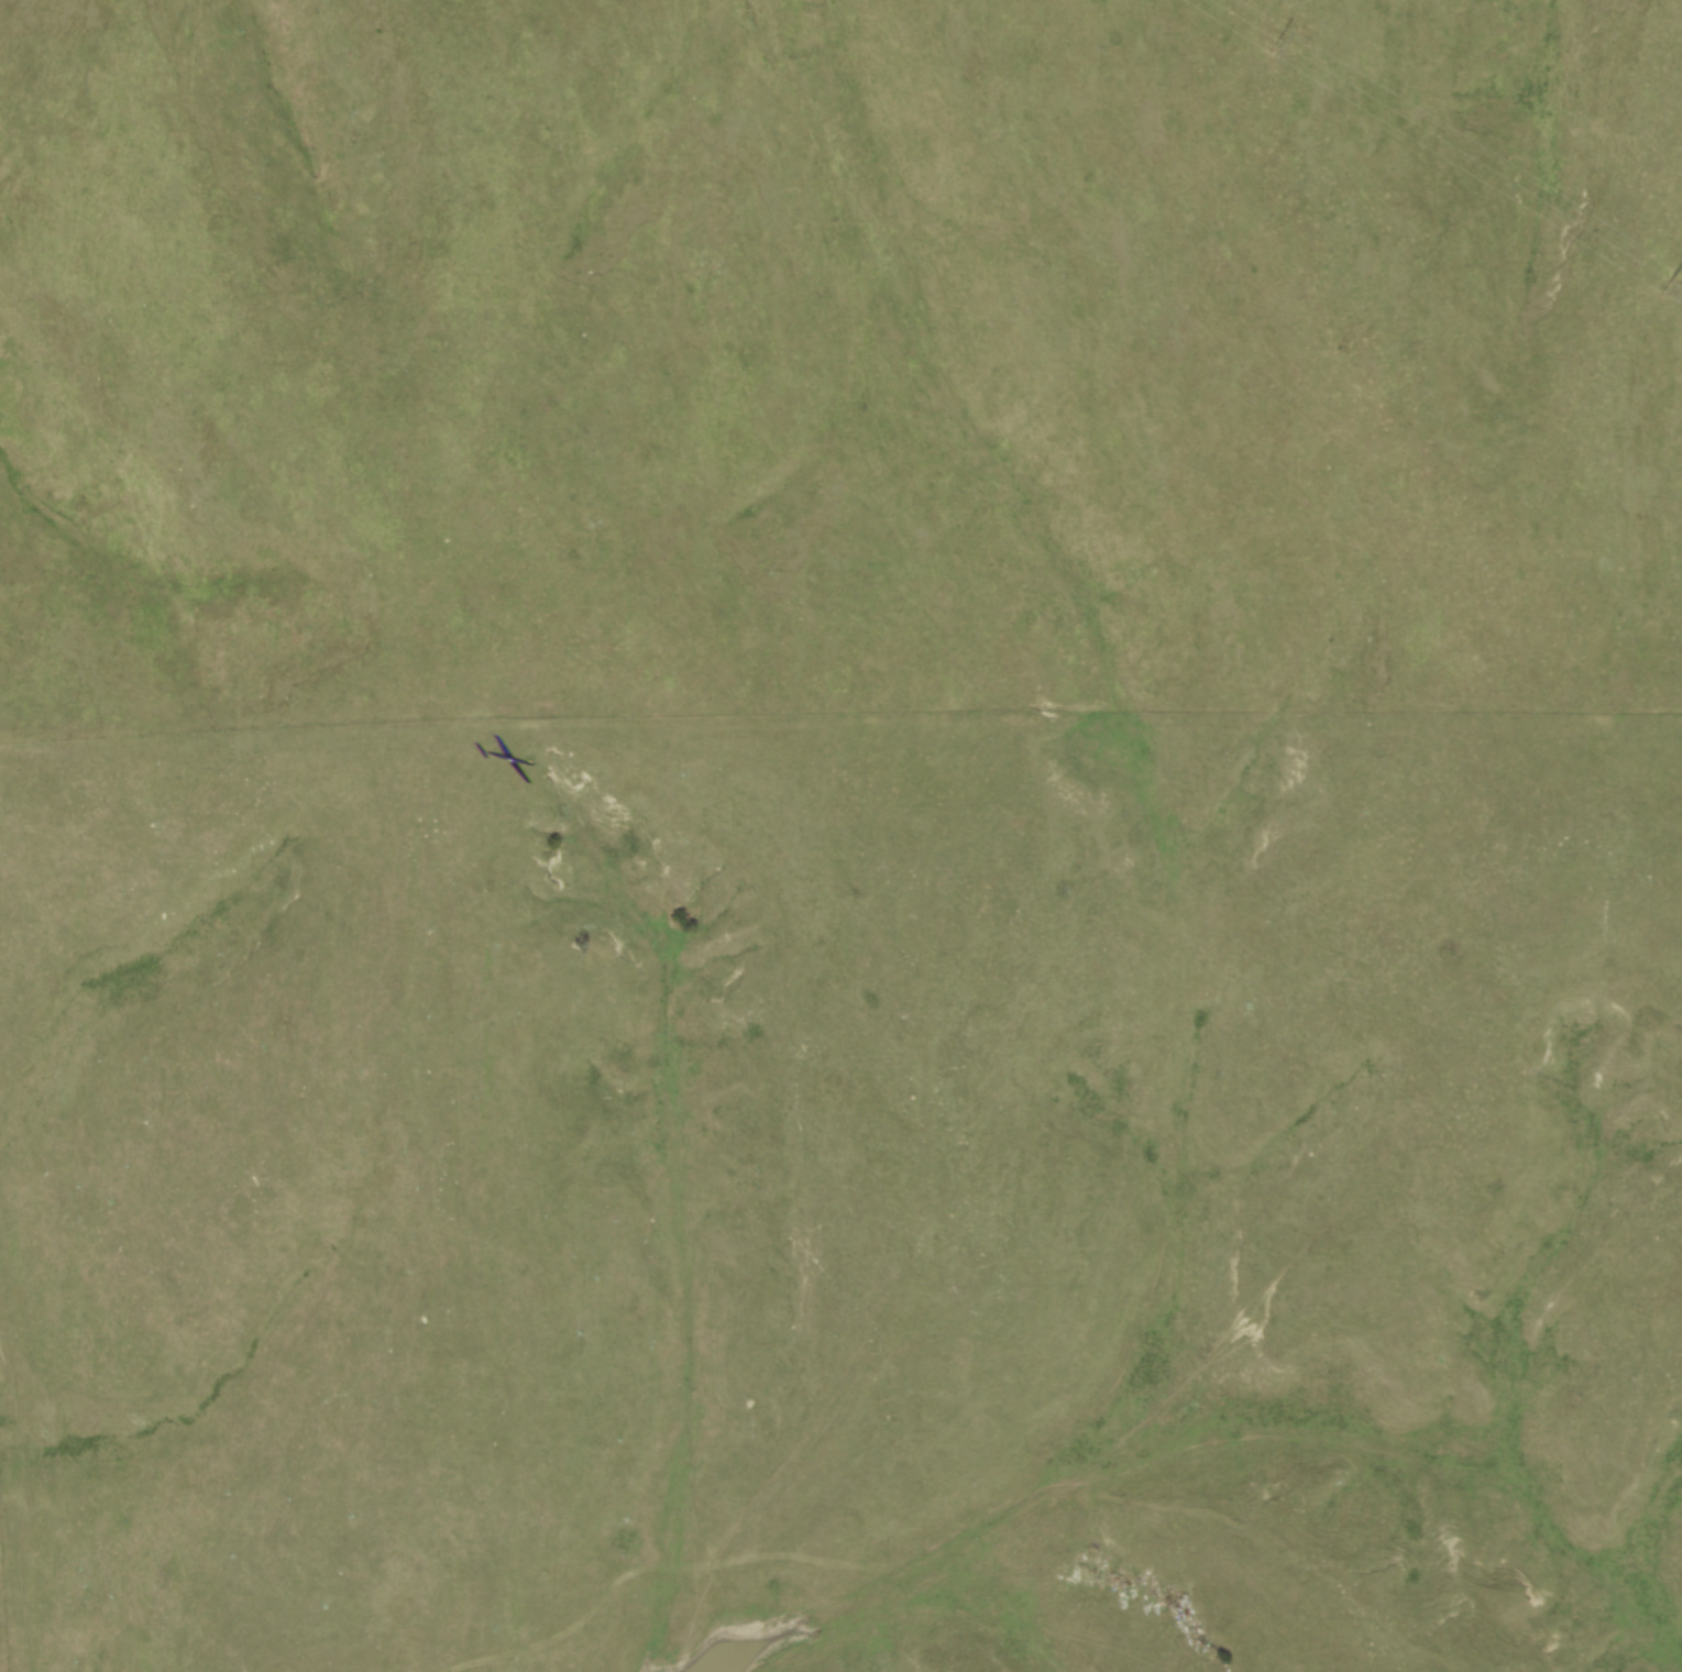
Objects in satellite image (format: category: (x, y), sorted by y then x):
power tower: (1273, 47)
power tower: (1662, 294)

